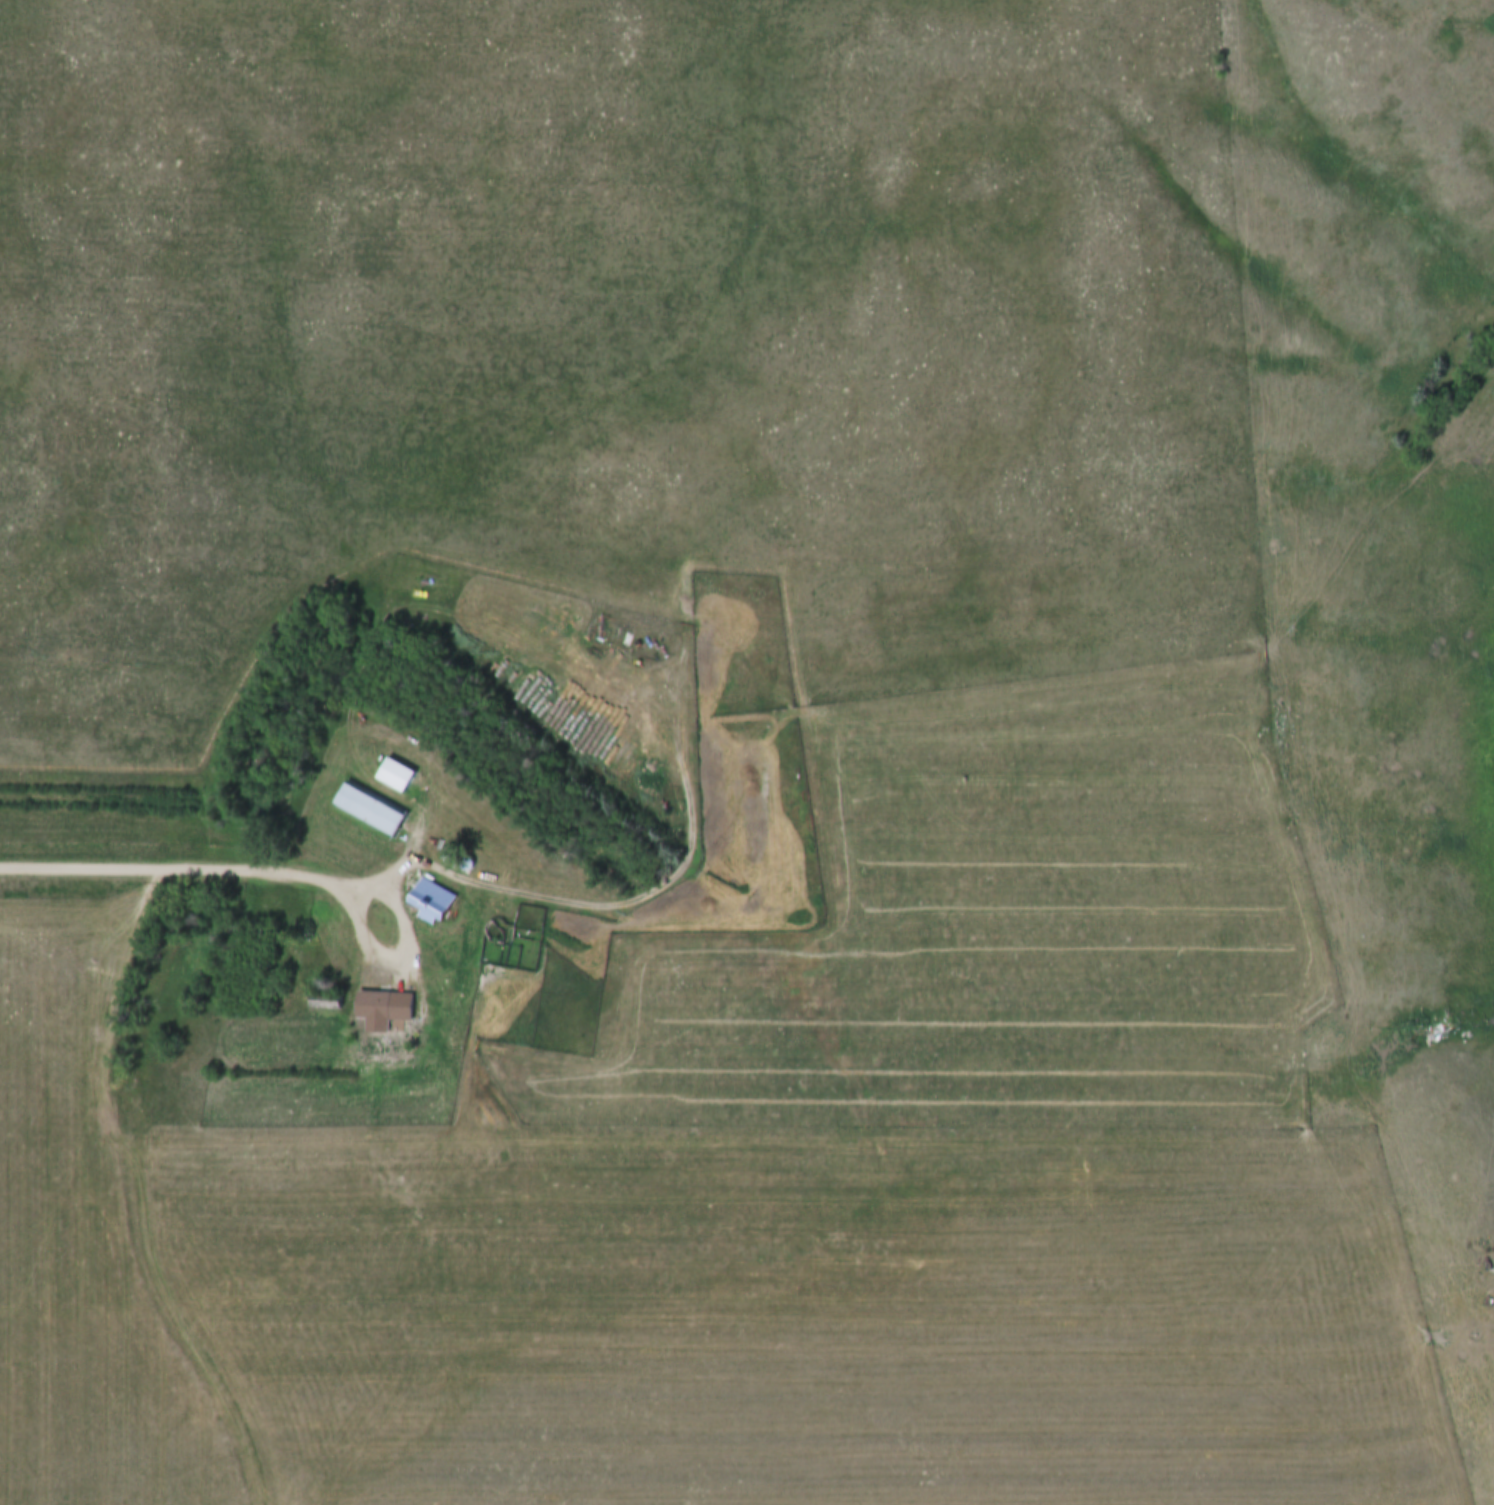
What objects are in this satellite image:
building: (398, 775)
building: (372, 810)
road: (170, 866)
building: (433, 902)
road: (408, 949)
building: (327, 1001)
building: (387, 1006)

